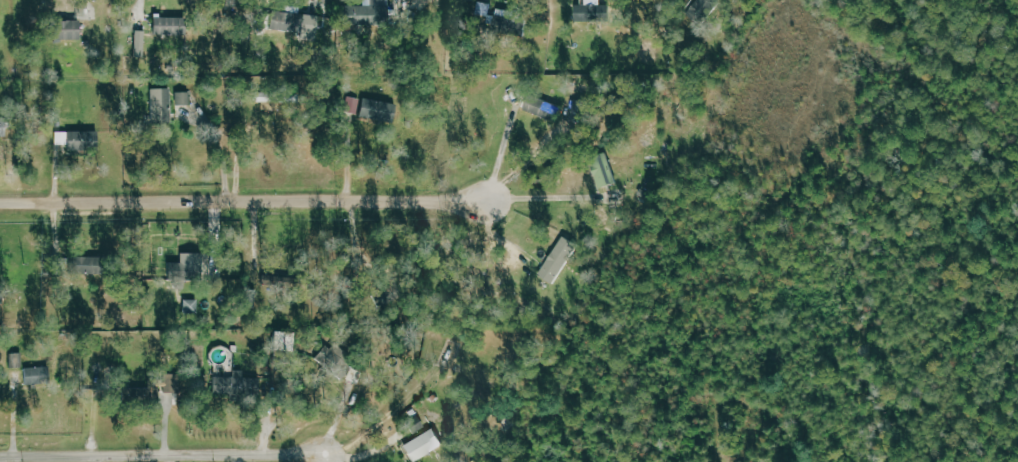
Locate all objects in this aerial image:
building: (701, 9)
building: (590, 11)
building: (354, 14)
building: (291, 21)
building: (166, 25)
building: (64, 29)
building: (139, 43)
building: (183, 98)
building: (160, 105)
building: (539, 106)
building: (369, 108)
building: (0, 128)
building: (77, 140)
road: (501, 148)
building: (602, 169)
road: (547, 197)
road: (242, 199)
building: (558, 260)
building: (77, 264)
building: (183, 265)
road: (753, 300)
building: (283, 343)
building: (37, 375)
building: (236, 384)
building: (151, 395)
building: (422, 445)
road: (164, 454)
road: (328, 457)

